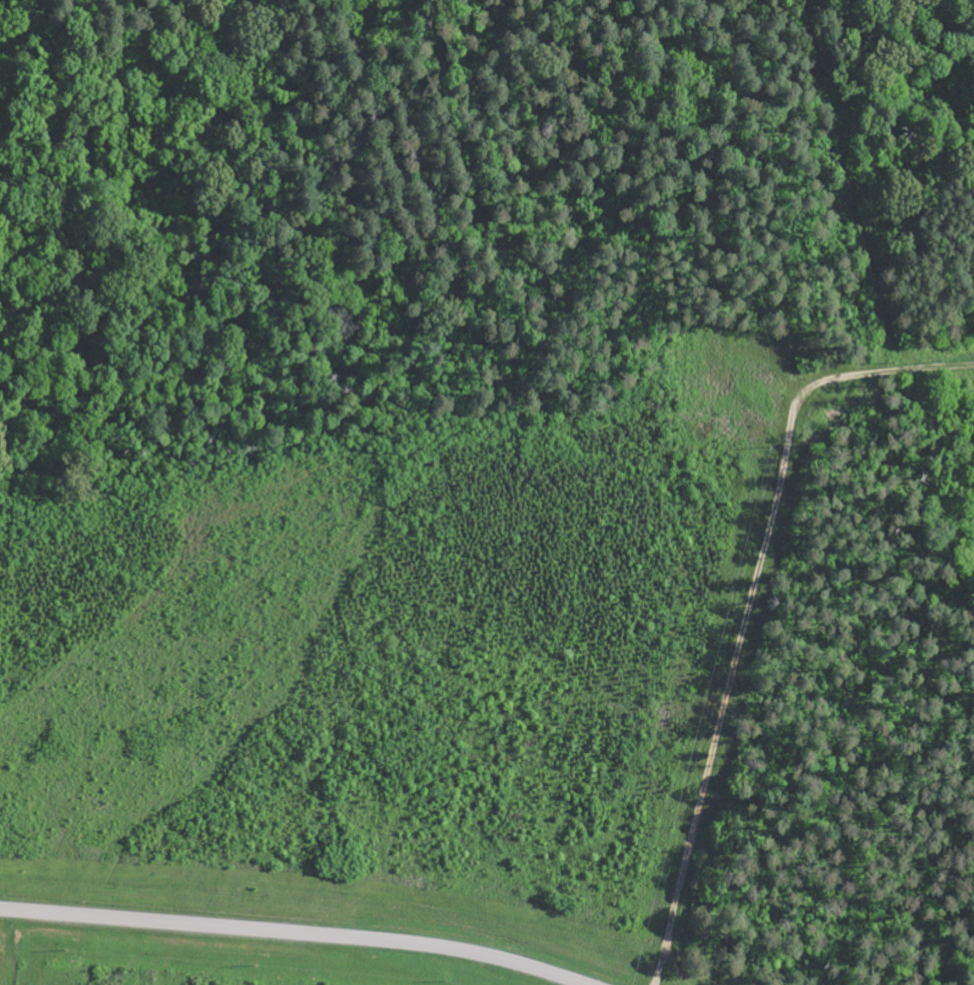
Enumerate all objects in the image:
road: (738, 695)
road: (294, 933)
road: (4, 948)

